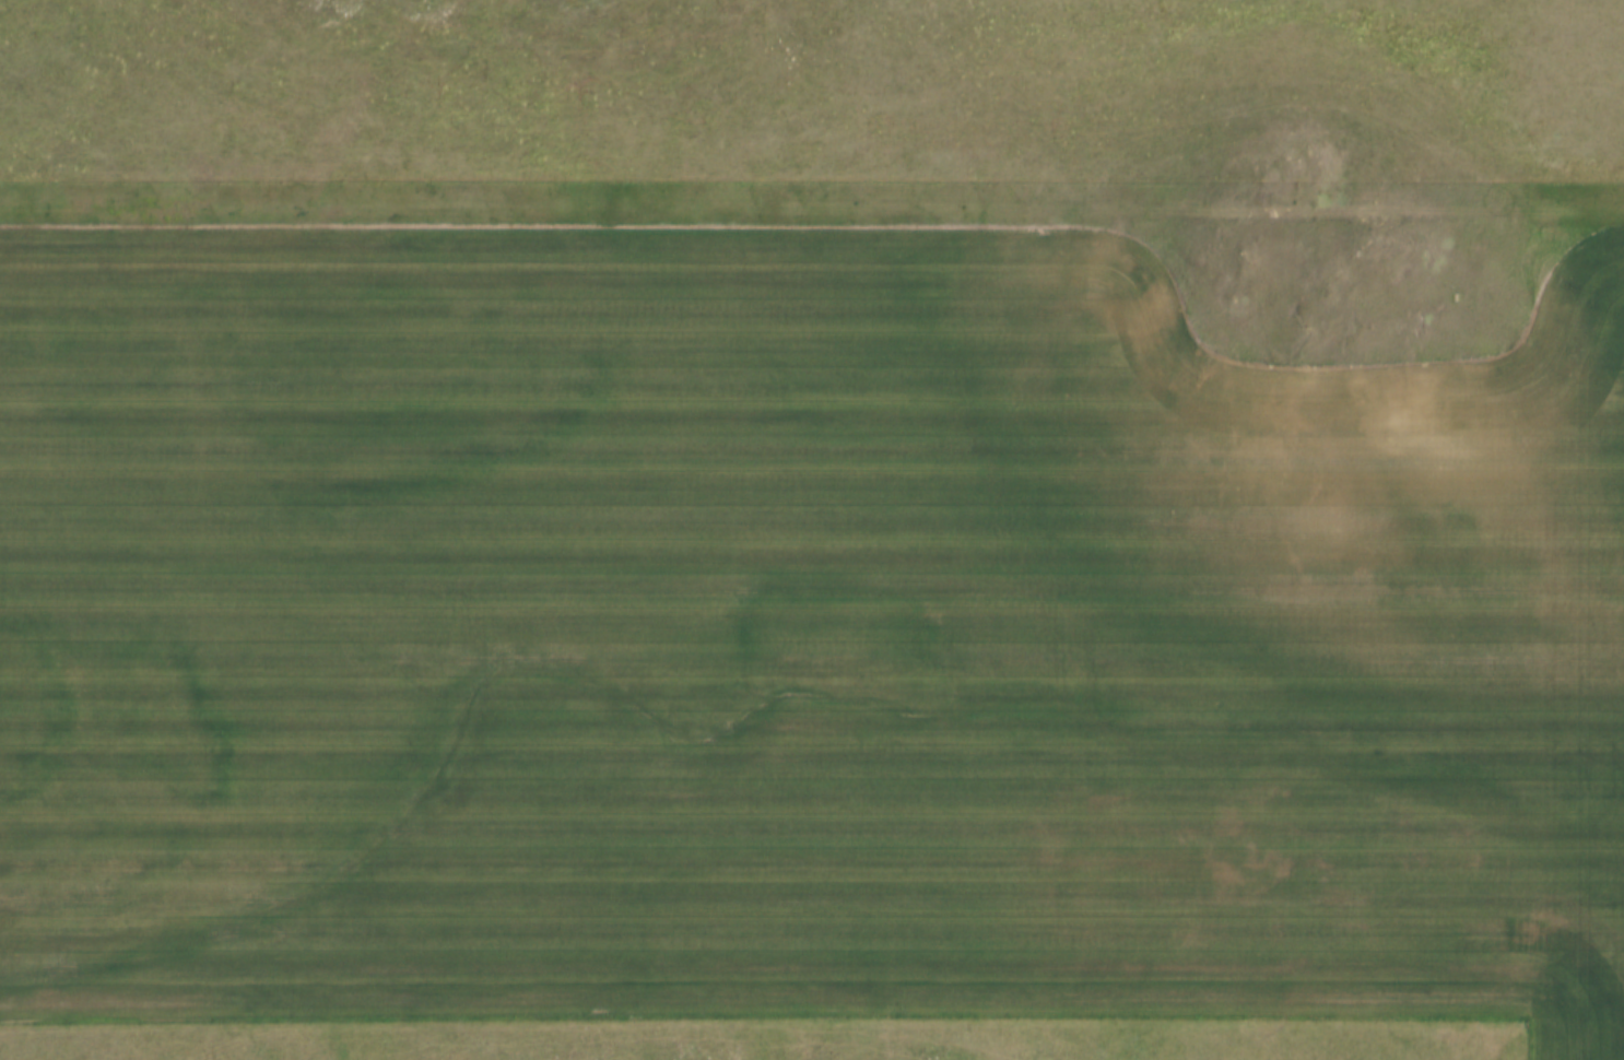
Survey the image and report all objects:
road: (811, 217)

